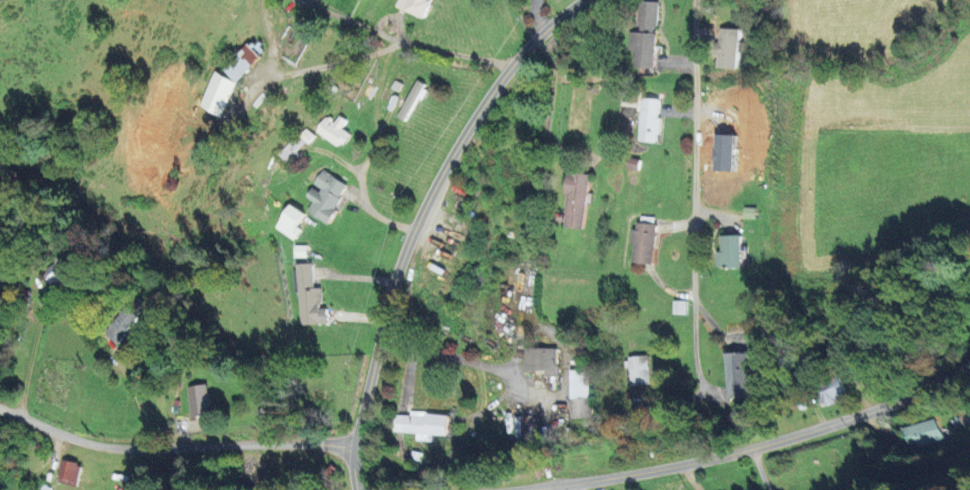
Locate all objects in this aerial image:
building: (410, 7)
road: (346, 21)
building: (643, 36)
building: (727, 49)
road: (456, 53)
road: (320, 65)
building: (222, 84)
building: (409, 102)
road: (375, 115)
building: (647, 120)
building: (332, 130)
building: (294, 145)
road: (661, 179)
building: (322, 196)
building: (574, 200)
building: (747, 213)
road: (386, 215)
road: (416, 218)
building: (287, 222)
building: (641, 244)
building: (728, 253)
road: (523, 264)
building: (55, 272)
building: (306, 298)
building: (677, 308)
building: (119, 325)
road: (31, 354)
building: (539, 361)
building: (637, 370)
building: (736, 375)
building: (828, 391)
building: (578, 395)
road: (133, 399)
building: (196, 401)
building: (420, 425)
building: (519, 429)
building: (917, 434)
road: (753, 440)
road: (173, 446)
building: (66, 474)
road: (578, 487)

